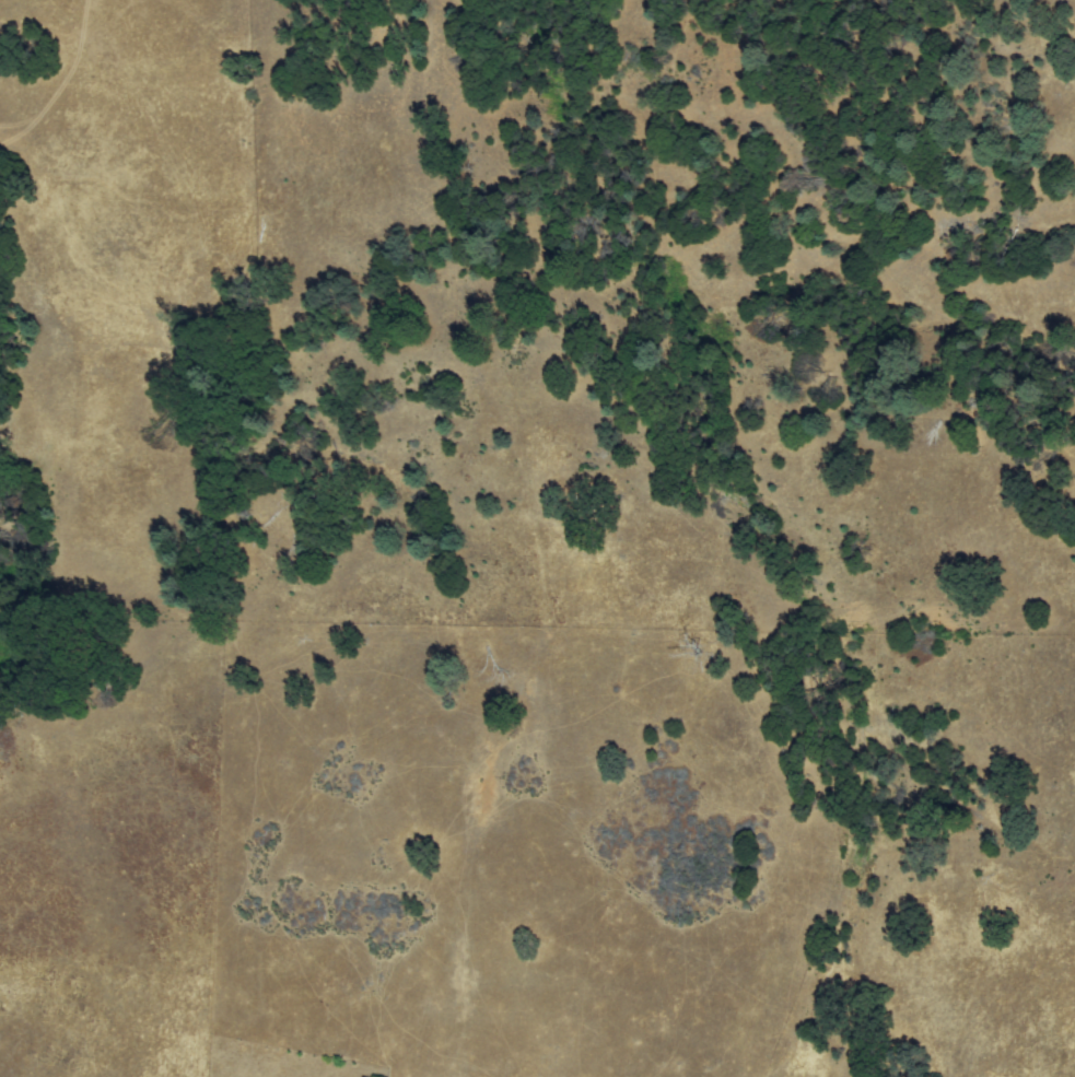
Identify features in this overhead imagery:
road: (837, 905)

